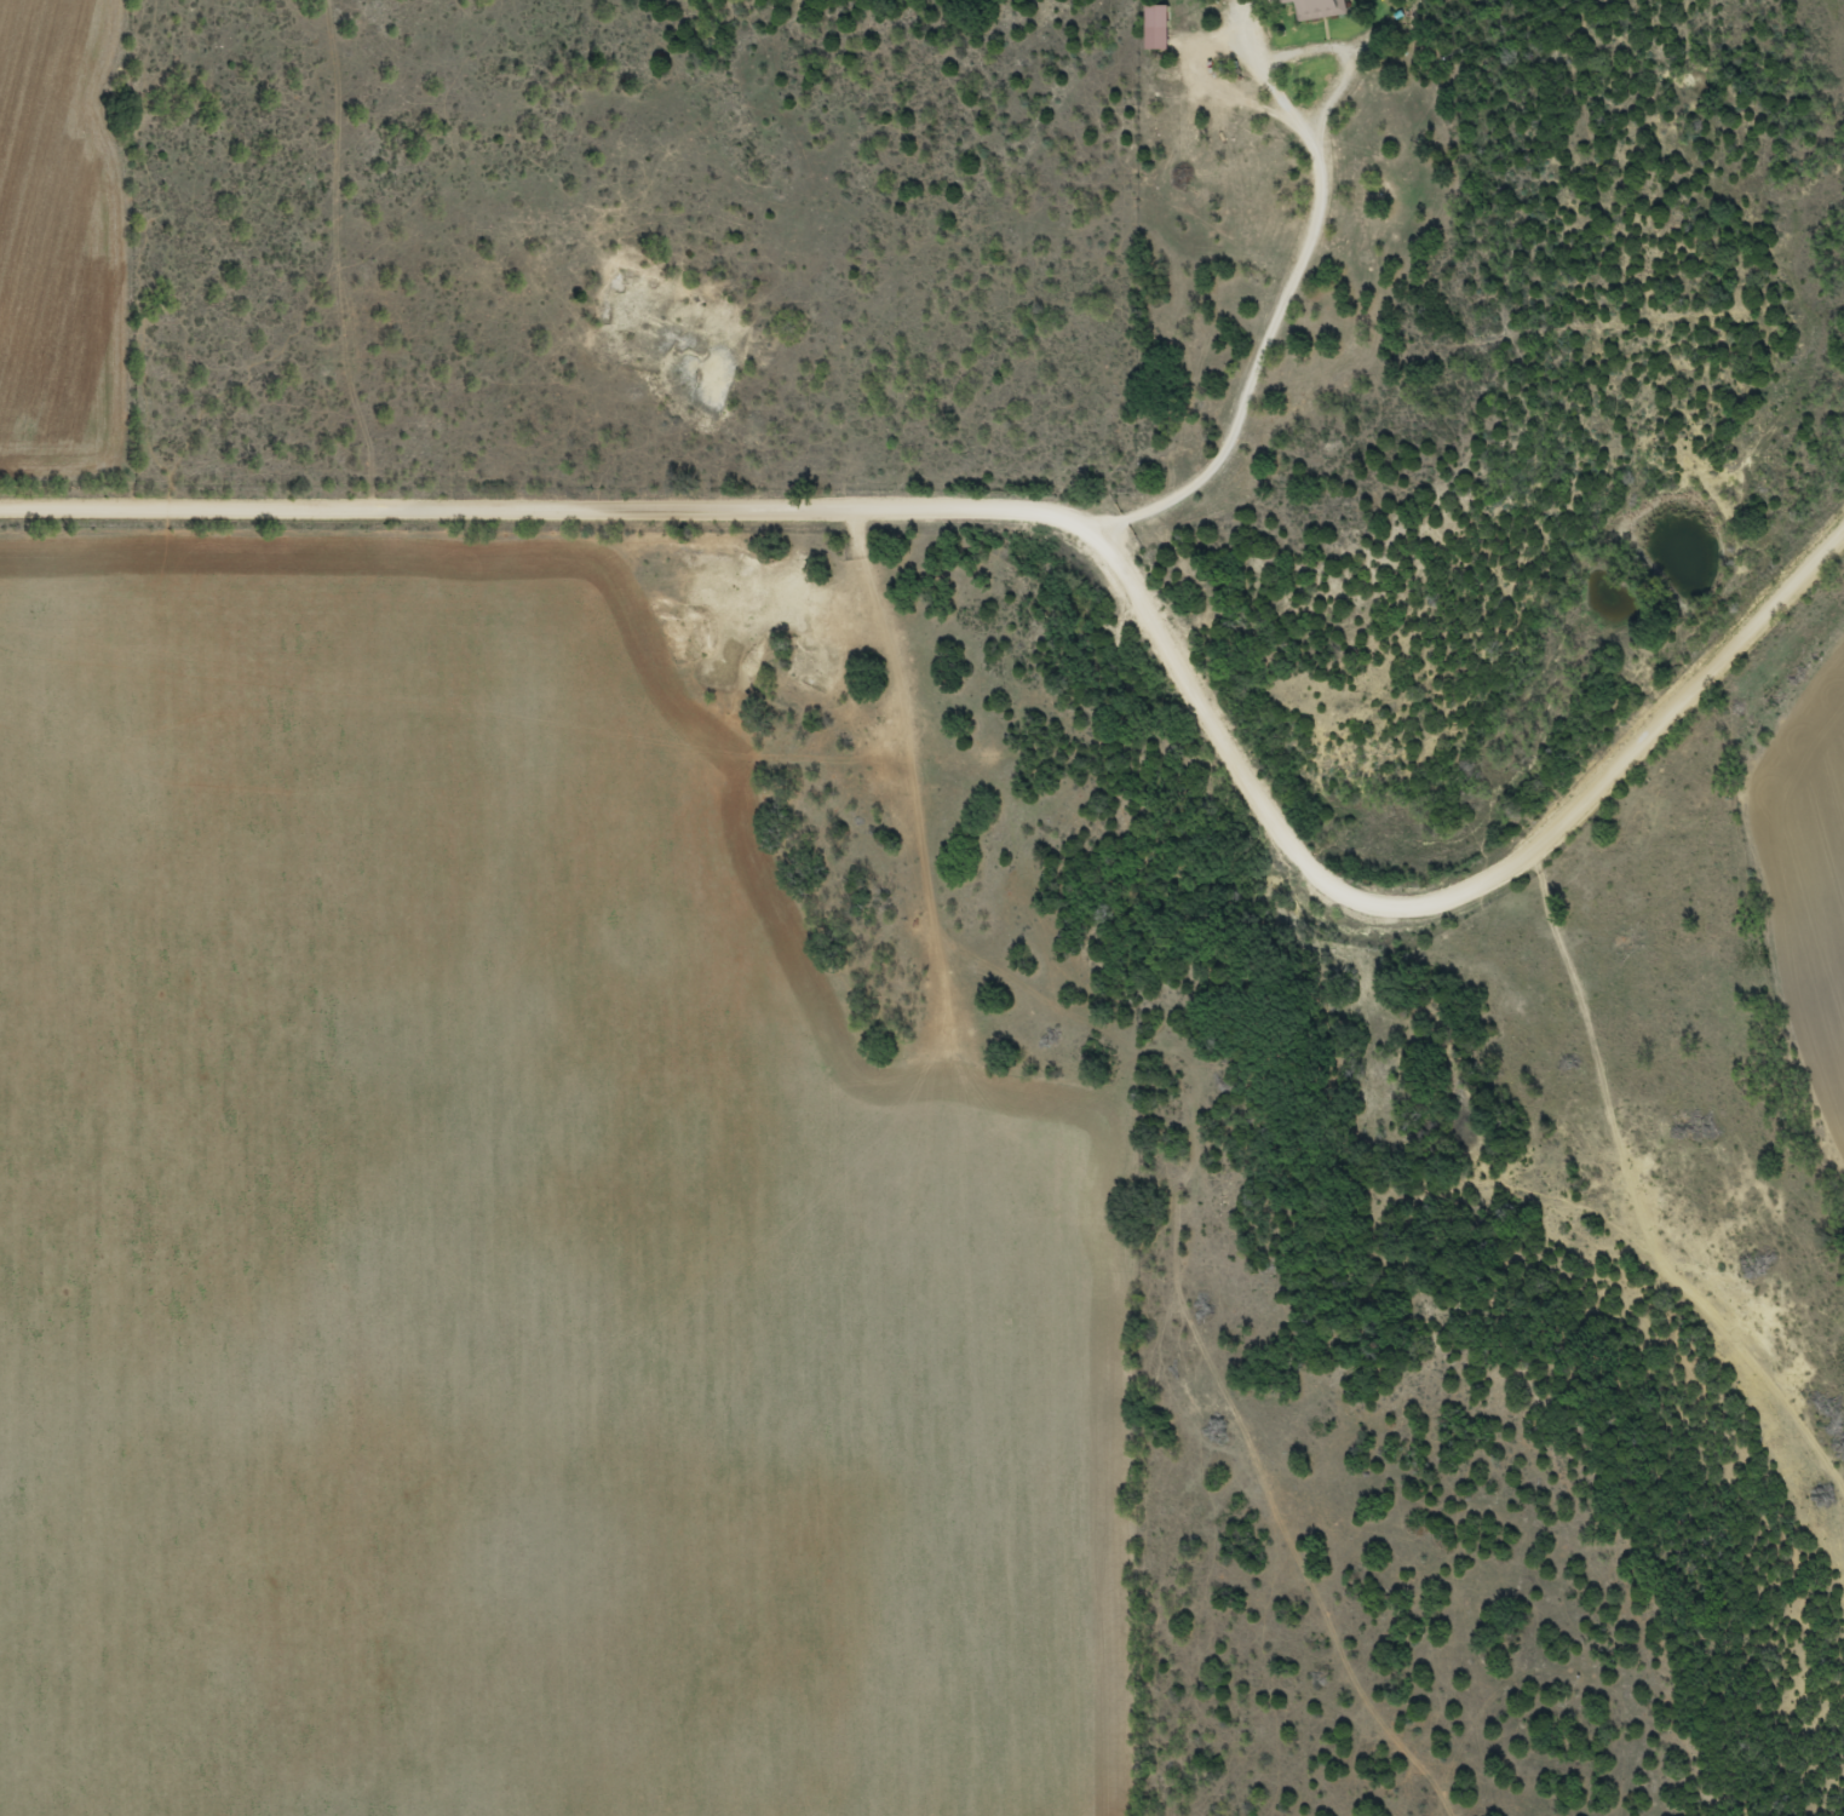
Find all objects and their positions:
building: (1317, 10)
building: (1156, 25)
road: (1268, 332)
road: (1090, 530)

